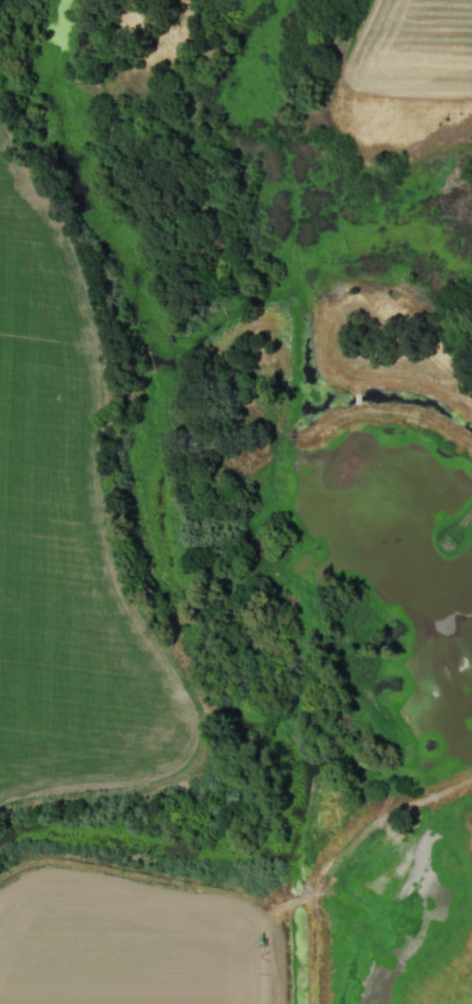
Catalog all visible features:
crop: (121, 600)

